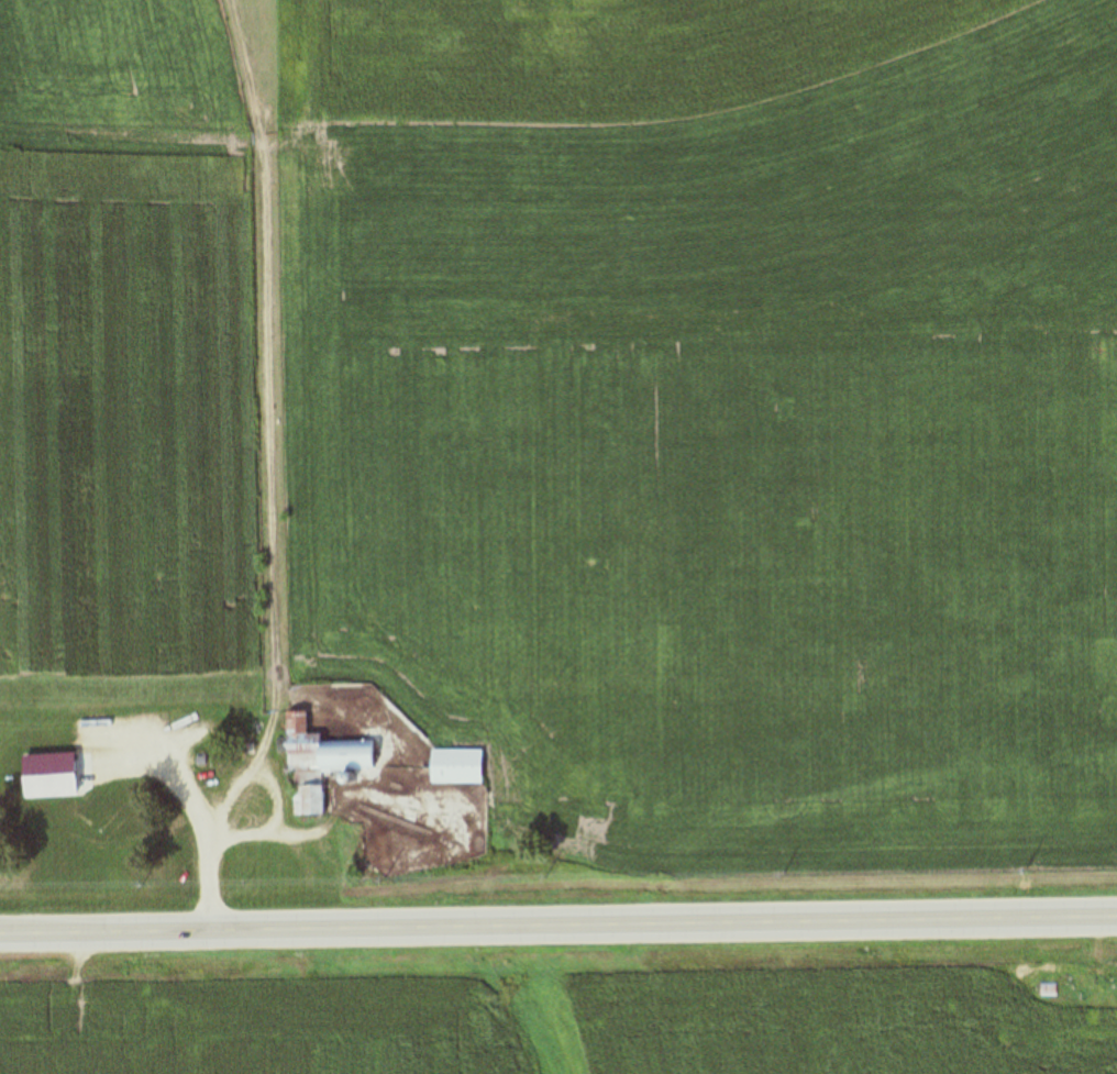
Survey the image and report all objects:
building: (317, 762)
building: (455, 766)
road: (558, 932)
building: (1049, 992)

